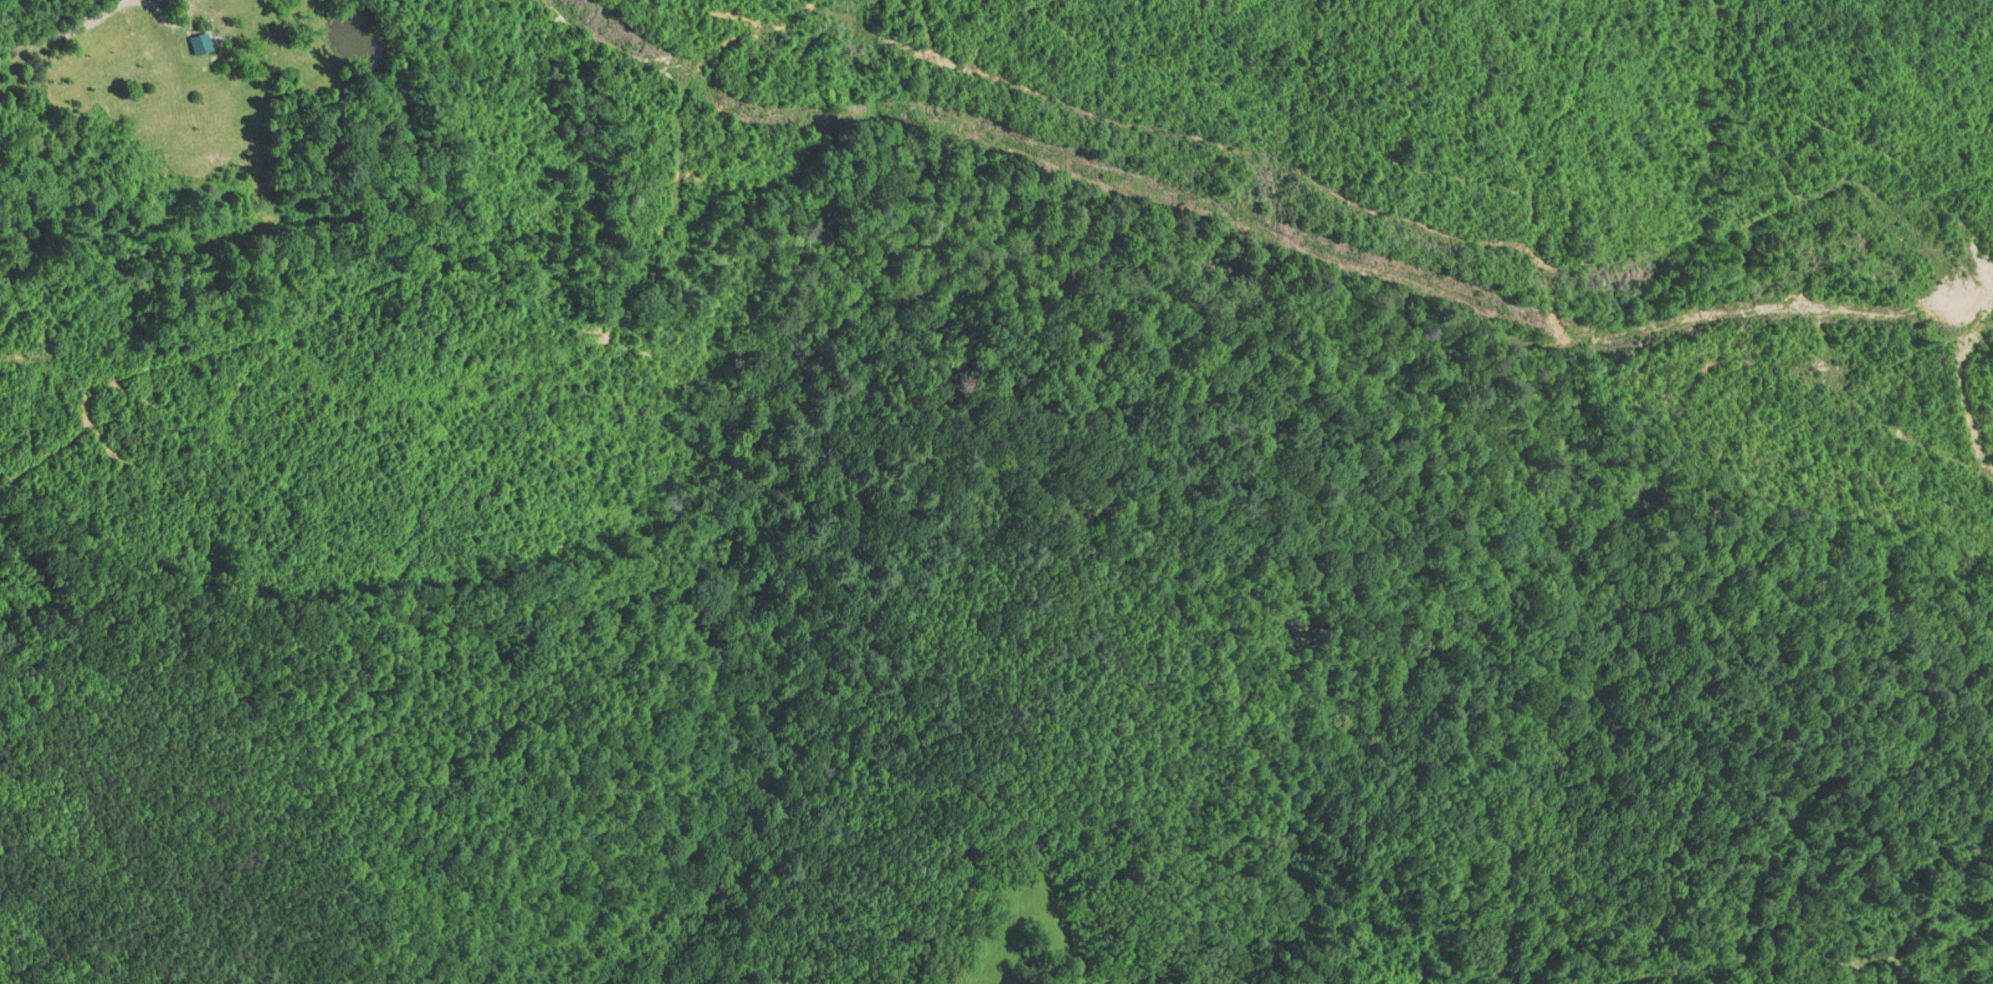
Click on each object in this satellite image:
road: (64, 32)
building: (199, 44)

